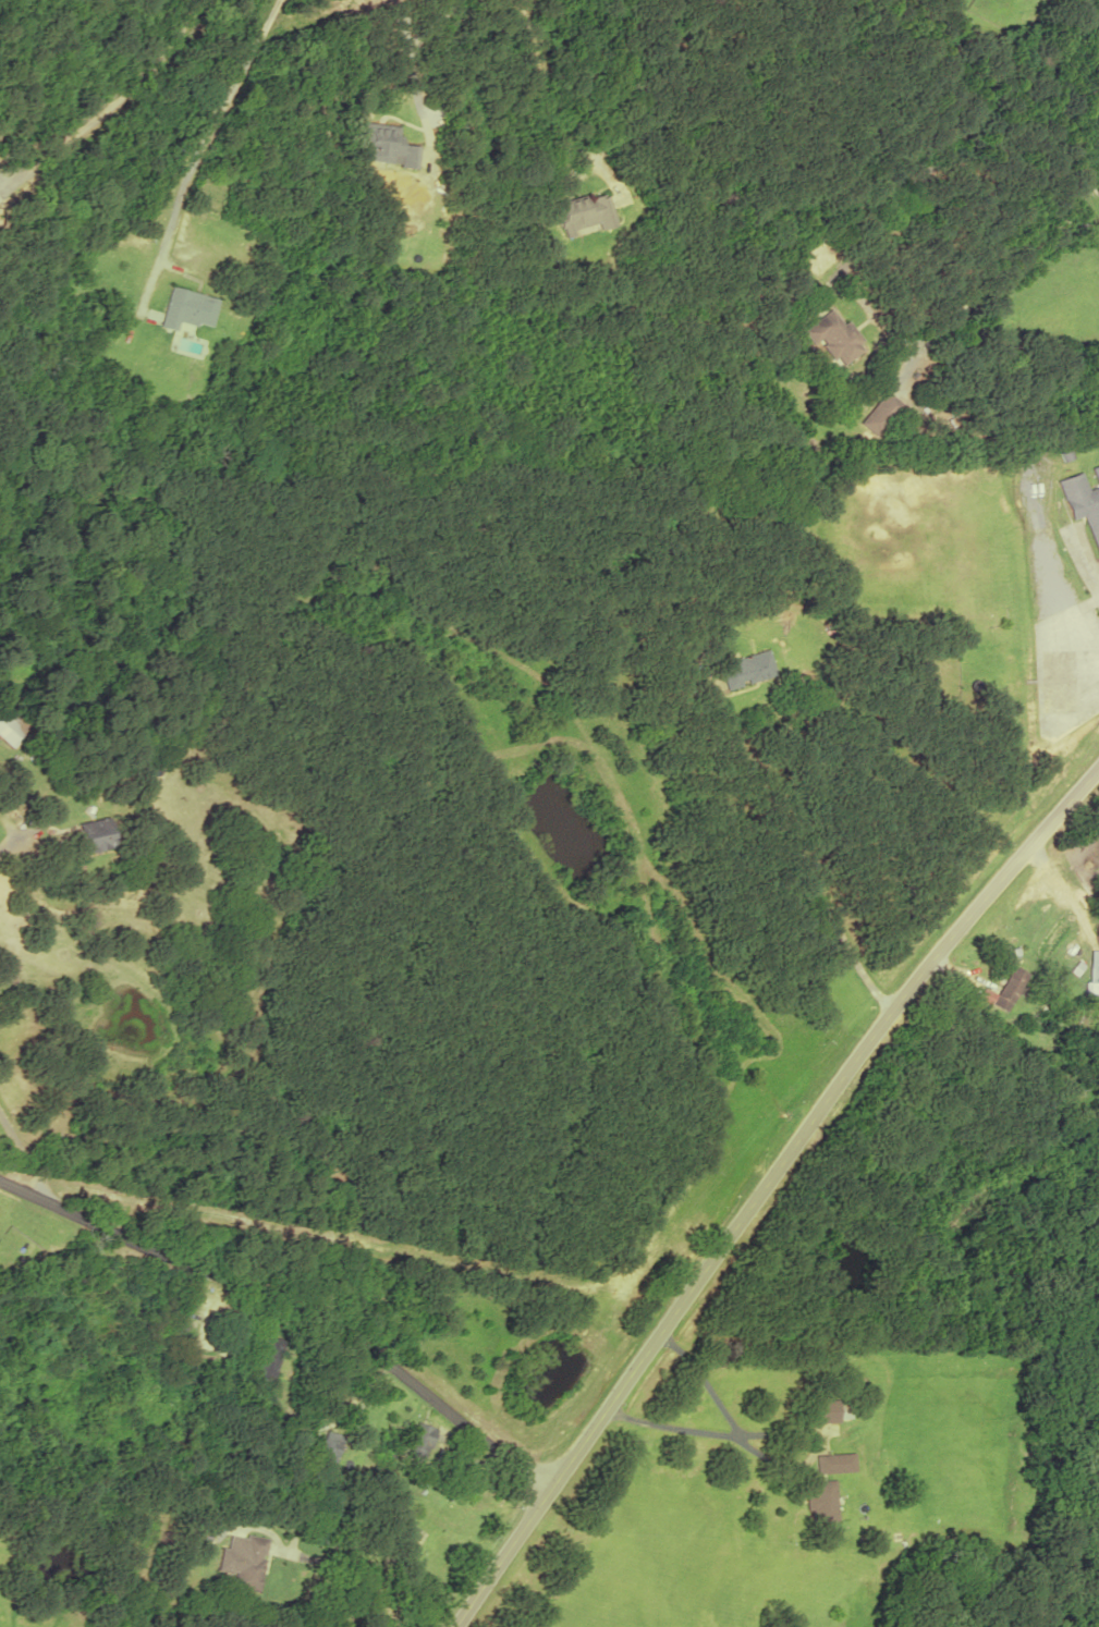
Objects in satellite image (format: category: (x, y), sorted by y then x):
building: (384, 145)
building: (579, 215)
building: (186, 308)
building: (834, 338)
building: (879, 412)
building: (1083, 501)
building: (747, 668)
building: (10, 726)
building: (93, 834)
building: (1005, 988)
road: (762, 1185)
road: (291, 1305)
building: (266, 1357)
building: (825, 1410)
building: (418, 1444)
building: (328, 1447)
building: (834, 1464)
building: (820, 1500)
building: (461, 1530)
building: (244, 1559)

